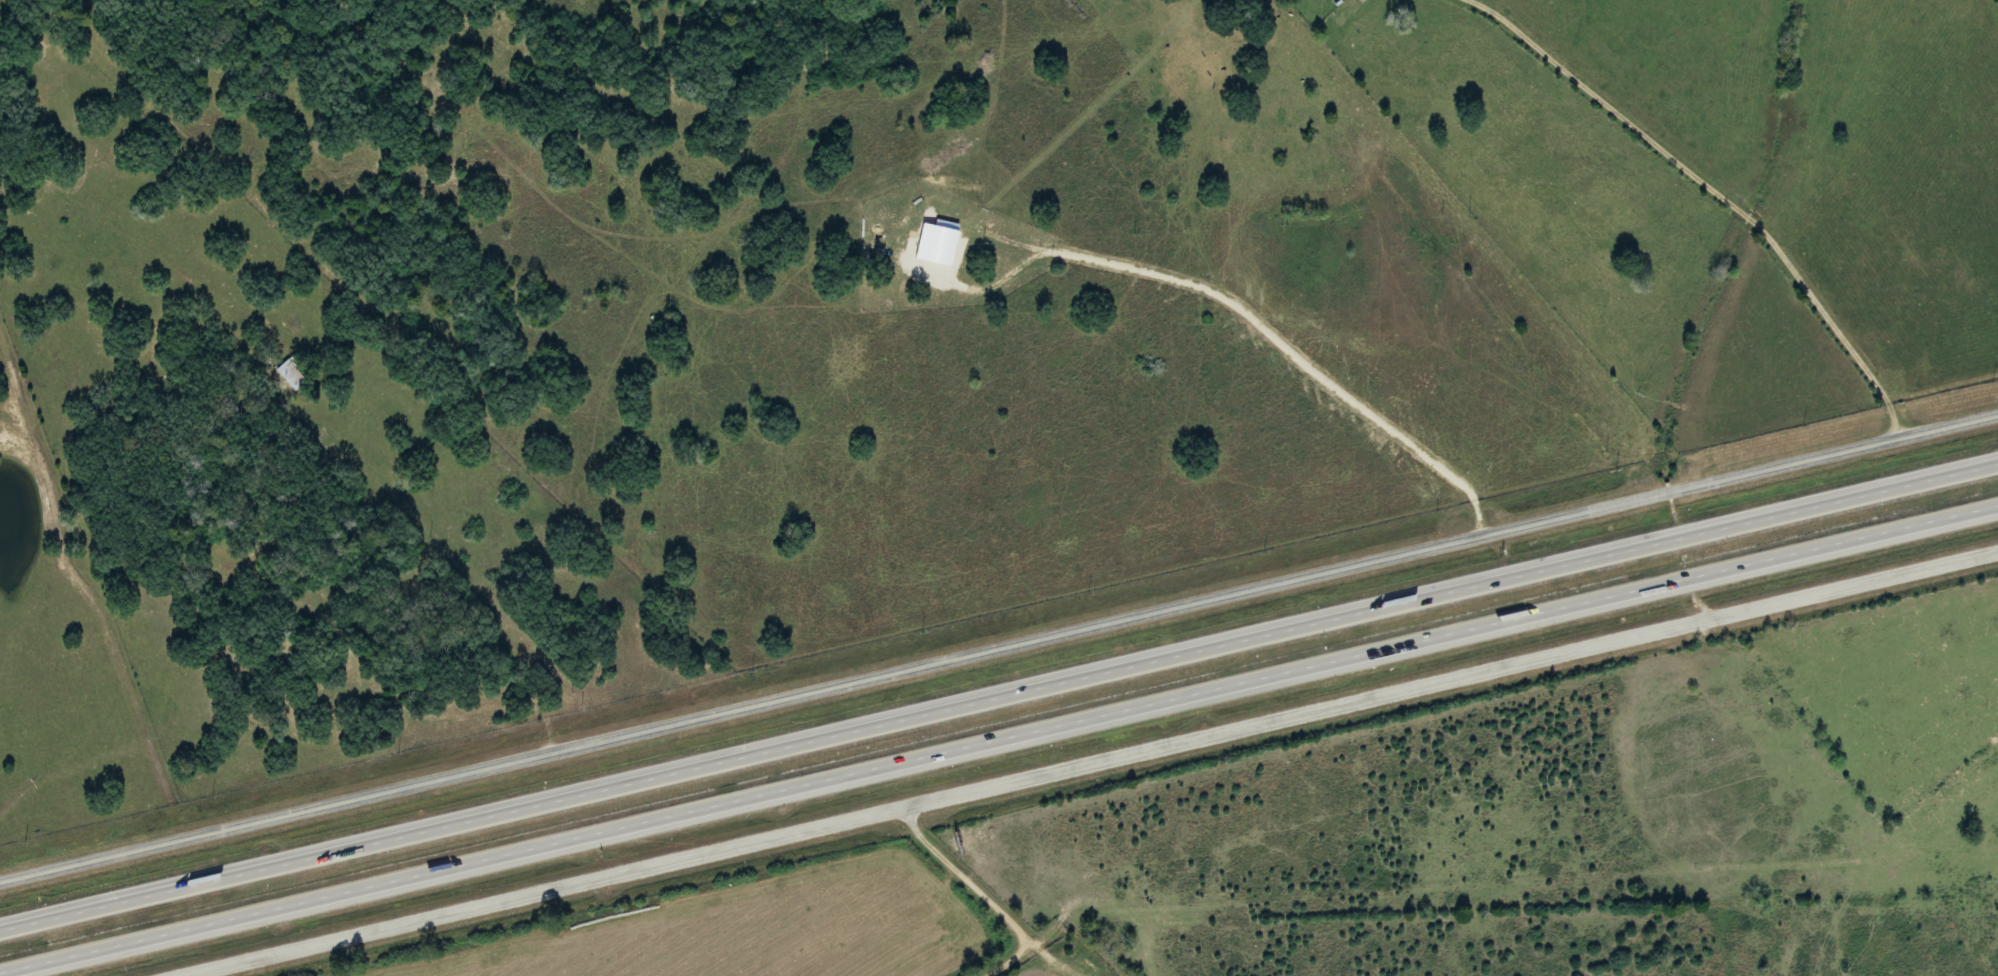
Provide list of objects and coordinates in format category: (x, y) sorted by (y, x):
road: (1717, 191)
building: (289, 373)
road: (999, 646)
road: (999, 697)
road: (999, 739)
road: (1089, 763)
road: (983, 899)

